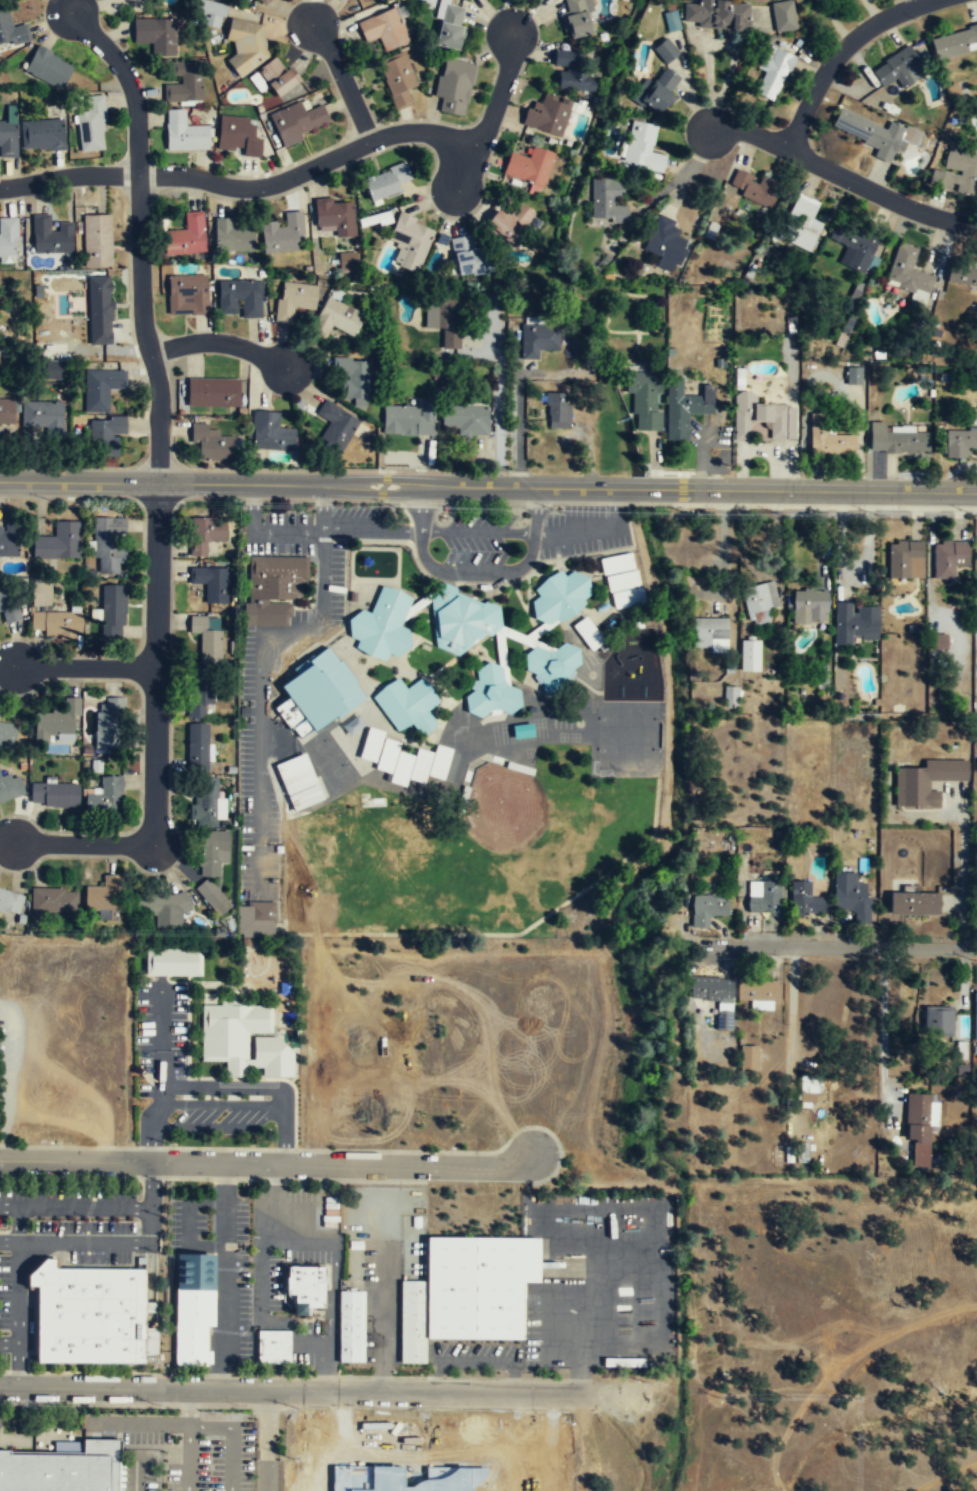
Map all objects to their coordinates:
building: (140, 1)
building: (263, 2)
building: (209, 10)
building: (784, 14)
building: (717, 15)
building: (575, 20)
building: (671, 20)
building: (451, 27)
building: (383, 30)
building: (11, 31)
building: (156, 35)
building: (954, 43)
building: (246, 48)
building: (666, 50)
road: (840, 55)
building: (48, 67)
building: (898, 70)
building: (570, 71)
building: (775, 71)
building: (279, 77)
road: (343, 80)
building: (397, 80)
building: (257, 81)
road: (708, 81)
building: (185, 84)
building: (454, 87)
building: (653, 94)
road: (489, 110)
building: (546, 116)
building: (297, 121)
building: (91, 125)
building: (870, 132)
building: (184, 134)
building: (7, 136)
building: (42, 136)
building: (237, 136)
building: (642, 148)
building: (528, 167)
building: (959, 172)
road: (843, 175)
building: (385, 184)
road: (242, 186)
building: (755, 187)
building: (607, 202)
building: (335, 217)
building: (800, 218)
building: (508, 223)
building: (283, 235)
building: (51, 236)
road: (137, 236)
building: (186, 236)
building: (231, 236)
building: (8, 237)
building: (97, 240)
building: (410, 243)
building: (664, 244)
building: (853, 244)
building: (469, 258)
building: (348, 262)
building: (907, 270)
building: (961, 272)
building: (187, 294)
building: (239, 296)
building: (294, 300)
building: (100, 310)
building: (337, 318)
building: (444, 319)
building: (538, 339)
road: (220, 343)
building: (54, 369)
building: (854, 375)
building: (353, 380)
building: (100, 388)
building: (213, 390)
road: (499, 394)
road: (519, 401)
building: (646, 401)
building: (684, 409)
building: (558, 410)
building: (6, 412)
building: (41, 416)
building: (761, 417)
building: (407, 419)
building: (465, 420)
building: (336, 424)
building: (269, 431)
building: (876, 435)
building: (104, 436)
building: (827, 438)
building: (906, 441)
building: (213, 442)
building: (959, 442)
road: (488, 486)
street lamp: (396, 506)
road: (614, 508)
street lamp: (694, 513)
street lamp: (878, 514)
road: (571, 530)
parking lot: (583, 530)
road: (476, 531)
road: (419, 533)
building: (205, 534)
parking lot: (478, 536)
road: (532, 537)
building: (9, 540)
building: (58, 543)
building: (109, 544)
building: (948, 558)
building: (905, 560)
building: (615, 562)
road: (472, 572)
building: (621, 580)
building: (210, 583)
building: (273, 588)
building: (41, 593)
building: (559, 596)
building: (627, 596)
building: (759, 602)
building: (8, 605)
building: (809, 606)
building: (112, 612)
building: (461, 619)
building: (856, 622)
building: (55, 624)
building: (381, 624)
building: (587, 632)
building: (710, 634)
building: (206, 640)
building: (940, 641)
building: (750, 654)
road: (157, 663)
road: (86, 666)
building: (551, 666)
building: (319, 688)
building: (490, 691)
building: (730, 696)
building: (202, 698)
building: (406, 704)
building: (56, 722)
building: (110, 723)
building: (353, 724)
building: (522, 731)
building: (7, 735)
building: (370, 743)
building: (199, 744)
park: (318, 748)
building: (415, 763)
park: (335, 772)
building: (299, 782)
building: (925, 782)
building: (10, 789)
building: (55, 795)
building: (106, 796)
building: (206, 800)
road: (84, 843)
building: (211, 854)
road: (962, 870)
building: (210, 895)
building: (851, 895)
building: (101, 897)
building: (763, 897)
building: (53, 902)
building: (10, 903)
building: (806, 903)
building: (913, 904)
building: (707, 909)
building: (165, 910)
building: (256, 919)
road: (841, 947)
building: (173, 963)
building: (758, 991)
building: (714, 994)
road: (882, 1008)
building: (938, 1022)
building: (975, 1026)
building: (243, 1039)
building: (748, 1057)
road: (6, 1079)
building: (806, 1090)
building: (918, 1132)
road: (268, 1162)
street lamp: (121, 1180)
road: (152, 1201)
road: (76, 1205)
road: (19, 1224)
road: (9, 1242)
road: (85, 1242)
road: (151, 1268)
building: (305, 1287)
building: (466, 1291)
road: (19, 1292)
building: (193, 1306)
building: (150, 1307)
building: (89, 1312)
building: (351, 1326)
road: (9, 1342)
building: (273, 1346)
road: (18, 1364)
road: (312, 1392)
road: (189, 1407)
road: (139, 1423)
parking lot: (0, 1424)
road: (209, 1425)
road: (267, 1441)
parking lot: (188, 1447)
building: (62, 1469)
road: (135, 1473)

